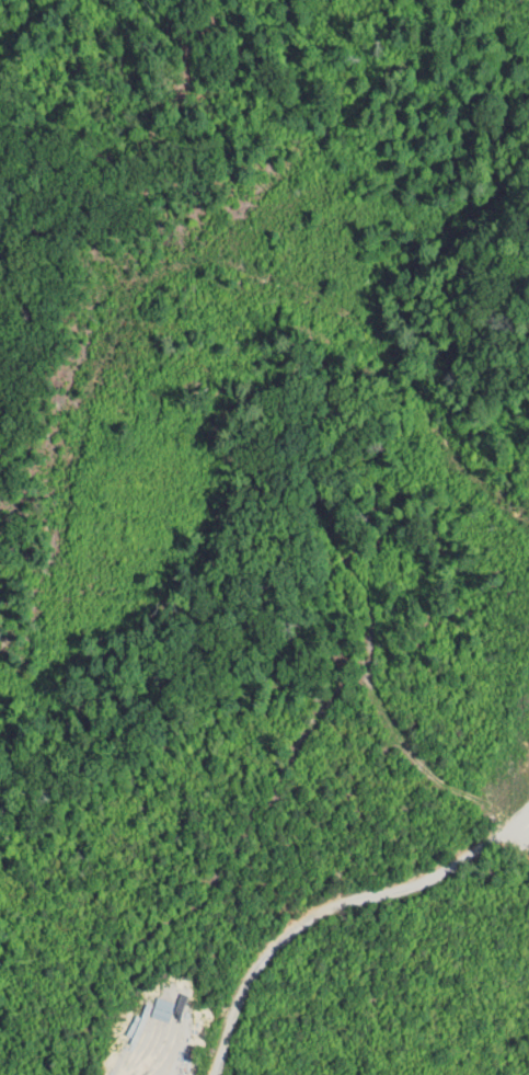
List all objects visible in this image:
building: (148, 1003)

